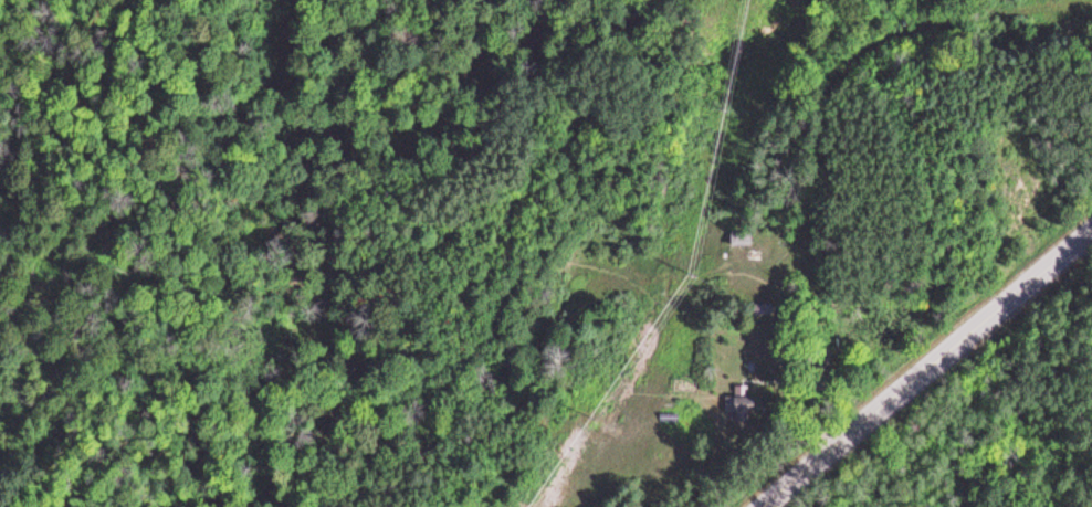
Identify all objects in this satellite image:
road: (925, 368)

